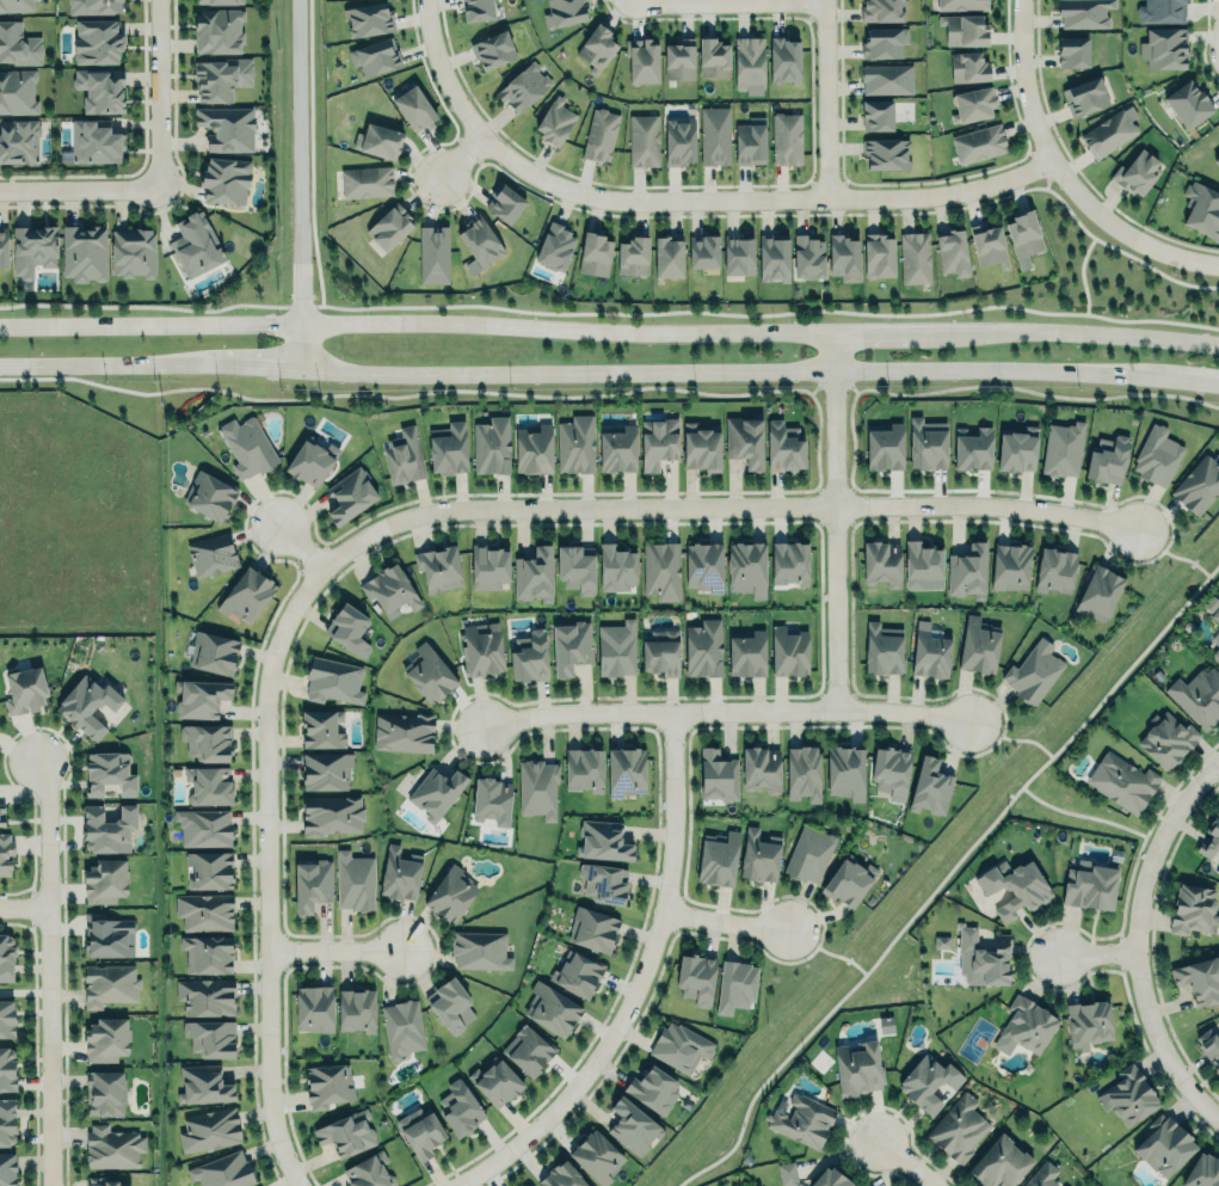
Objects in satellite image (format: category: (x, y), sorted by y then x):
building: (222, 1)
road: (722, 1)
building: (962, 4)
building: (16, 5)
building: (97, 6)
building: (478, 10)
building: (882, 11)
building: (1162, 11)
building: (565, 12)
building: (1084, 13)
building: (368, 19)
building: (220, 30)
building: (965, 30)
building: (885, 41)
building: (98, 42)
building: (19, 44)
building: (597, 49)
building: (1164, 49)
building: (493, 50)
building: (1073, 53)
building: (376, 57)
building: (713, 57)
building: (678, 60)
building: (784, 61)
building: (644, 63)
building: (749, 64)
building: (969, 67)
road: (439, 69)
building: (886, 78)
building: (221, 79)
building: (523, 87)
building: (100, 90)
building: (18, 92)
road: (154, 94)
building: (1086, 97)
road: (829, 98)
building: (1188, 98)
building: (973, 104)
building: (414, 110)
building: (876, 116)
building: (555, 122)
building: (226, 128)
building: (1112, 131)
building: (601, 135)
building: (715, 135)
building: (787, 139)
building: (645, 140)
building: (19, 141)
building: (94, 141)
building: (378, 141)
building: (681, 141)
building: (750, 142)
building: (979, 143)
road: (456, 152)
building: (887, 153)
building: (1217, 160)
building: (1138, 173)
road: (1059, 176)
building: (226, 180)
building: (367, 182)
road: (297, 184)
road: (76, 189)
road: (755, 197)
building: (503, 201)
building: (1201, 204)
building: (389, 227)
building: (1023, 234)
building: (479, 240)
building: (989, 245)
building: (196, 246)
building: (4, 247)
building: (555, 247)
building: (33, 250)
building: (952, 250)
building: (703, 251)
building: (134, 252)
building: (84, 253)
building: (433, 253)
building: (595, 254)
building: (667, 254)
building: (633, 256)
building: (738, 256)
building: (807, 256)
building: (878, 256)
building: (915, 256)
building: (772, 257)
building: (844, 258)
road: (1082, 271)
road: (609, 330)
road: (609, 370)
building: (658, 440)
building: (745, 440)
building: (491, 443)
building: (574, 443)
building: (783, 444)
building: (885, 444)
building: (926, 444)
building: (700, 445)
building: (247, 447)
building: (973, 447)
building: (448, 448)
building: (532, 448)
building: (1061, 448)
building: (617, 449)
building: (1017, 450)
building: (402, 454)
building: (1157, 454)
building: (1106, 457)
building: (309, 461)
building: (1199, 485)
building: (208, 493)
building: (350, 496)
road: (720, 506)
road: (832, 520)
road: (300, 545)
building: (211, 553)
building: (790, 561)
building: (881, 563)
building: (488, 565)
building: (703, 565)
building: (1011, 565)
building: (922, 566)
building: (746, 567)
building: (438, 569)
building: (616, 569)
building: (575, 570)
building: (661, 570)
building: (967, 570)
building: (1054, 570)
building: (534, 573)
building: (389, 590)
building: (1098, 591)
building: (246, 595)
building: (1213, 609)
building: (347, 627)
building: (570, 646)
building: (978, 646)
building: (480, 649)
building: (616, 649)
building: (703, 649)
building: (214, 650)
building: (884, 650)
building: (660, 651)
building: (788, 651)
building: (1215, 651)
building: (747, 653)
building: (930, 655)
building: (529, 656)
building: (1033, 670)
building: (429, 672)
building: (332, 678)
building: (25, 690)
building: (1198, 695)
building: (198, 696)
building: (86, 702)
road: (719, 711)
building: (321, 729)
building: (404, 731)
building: (1165, 738)
building: (207, 741)
building: (583, 768)
building: (761, 769)
building: (891, 769)
building: (109, 770)
building: (326, 770)
building: (845, 770)
building: (626, 772)
building: (802, 772)
building: (718, 775)
building: (1122, 780)
building: (208, 782)
building: (930, 786)
building: (536, 787)
building: (436, 791)
building: (492, 799)
road: (1082, 812)
building: (331, 813)
building: (1, 815)
road: (1160, 824)
building: (106, 826)
building: (203, 826)
building: (1211, 832)
building: (602, 838)
building: (5, 853)
building: (808, 853)
building: (718, 856)
building: (759, 856)
building: (208, 868)
road: (266, 872)
building: (399, 872)
building: (1218, 872)
building: (1218, 873)
road: (944, 875)
building: (104, 879)
building: (355, 879)
building: (848, 880)
building: (603, 881)
building: (312, 883)
building: (1014, 885)
building: (1089, 886)
building: (450, 892)
road: (24, 907)
building: (1193, 908)
building: (204, 911)
road: (726, 917)
building: (592, 928)
building: (107, 934)
building: (941, 941)
road: (330, 948)
building: (479, 948)
building: (207, 952)
road: (1094, 954)
building: (6, 957)
building: (984, 958)
building: (575, 971)
road: (49, 973)
building: (695, 976)
building: (1198, 977)
building: (109, 983)
road: (638, 984)
building: (735, 987)
building: (204, 995)
building: (448, 1002)
building: (313, 1007)
building: (550, 1007)
building: (356, 1008)
building: (6, 1019)
building: (1088, 1022)
building: (1027, 1025)
road: (1149, 1025)
building: (401, 1026)
building: (209, 1037)
building: (105, 1038)
building: (679, 1046)
building: (1209, 1046)
building: (528, 1047)
building: (857, 1067)
building: (6, 1068)
building: (495, 1080)
building: (929, 1082)
building: (202, 1083)
building: (327, 1083)
building: (653, 1088)
building: (104, 1093)
building: (1127, 1094)
building: (458, 1107)
road: (860, 1110)
building: (801, 1119)
building: (6, 1120)
building: (632, 1125)
building: (958, 1127)
building: (209, 1130)
building: (420, 1131)
building: (346, 1133)
building: (1164, 1143)
building: (112, 1147)
building: (596, 1156)
building: (1001, 1162)
road: (907, 1163)
building: (6, 1169)
building: (222, 1170)
building: (368, 1172)
building: (1202, 1172)
building: (787, 1173)
building: (561, 1175)
building: (1042, 1175)
building: (830, 1178)
building: (107, 1182)
building: (529, 1185)
building: (532, 1185)
building: (1065, 1185)

